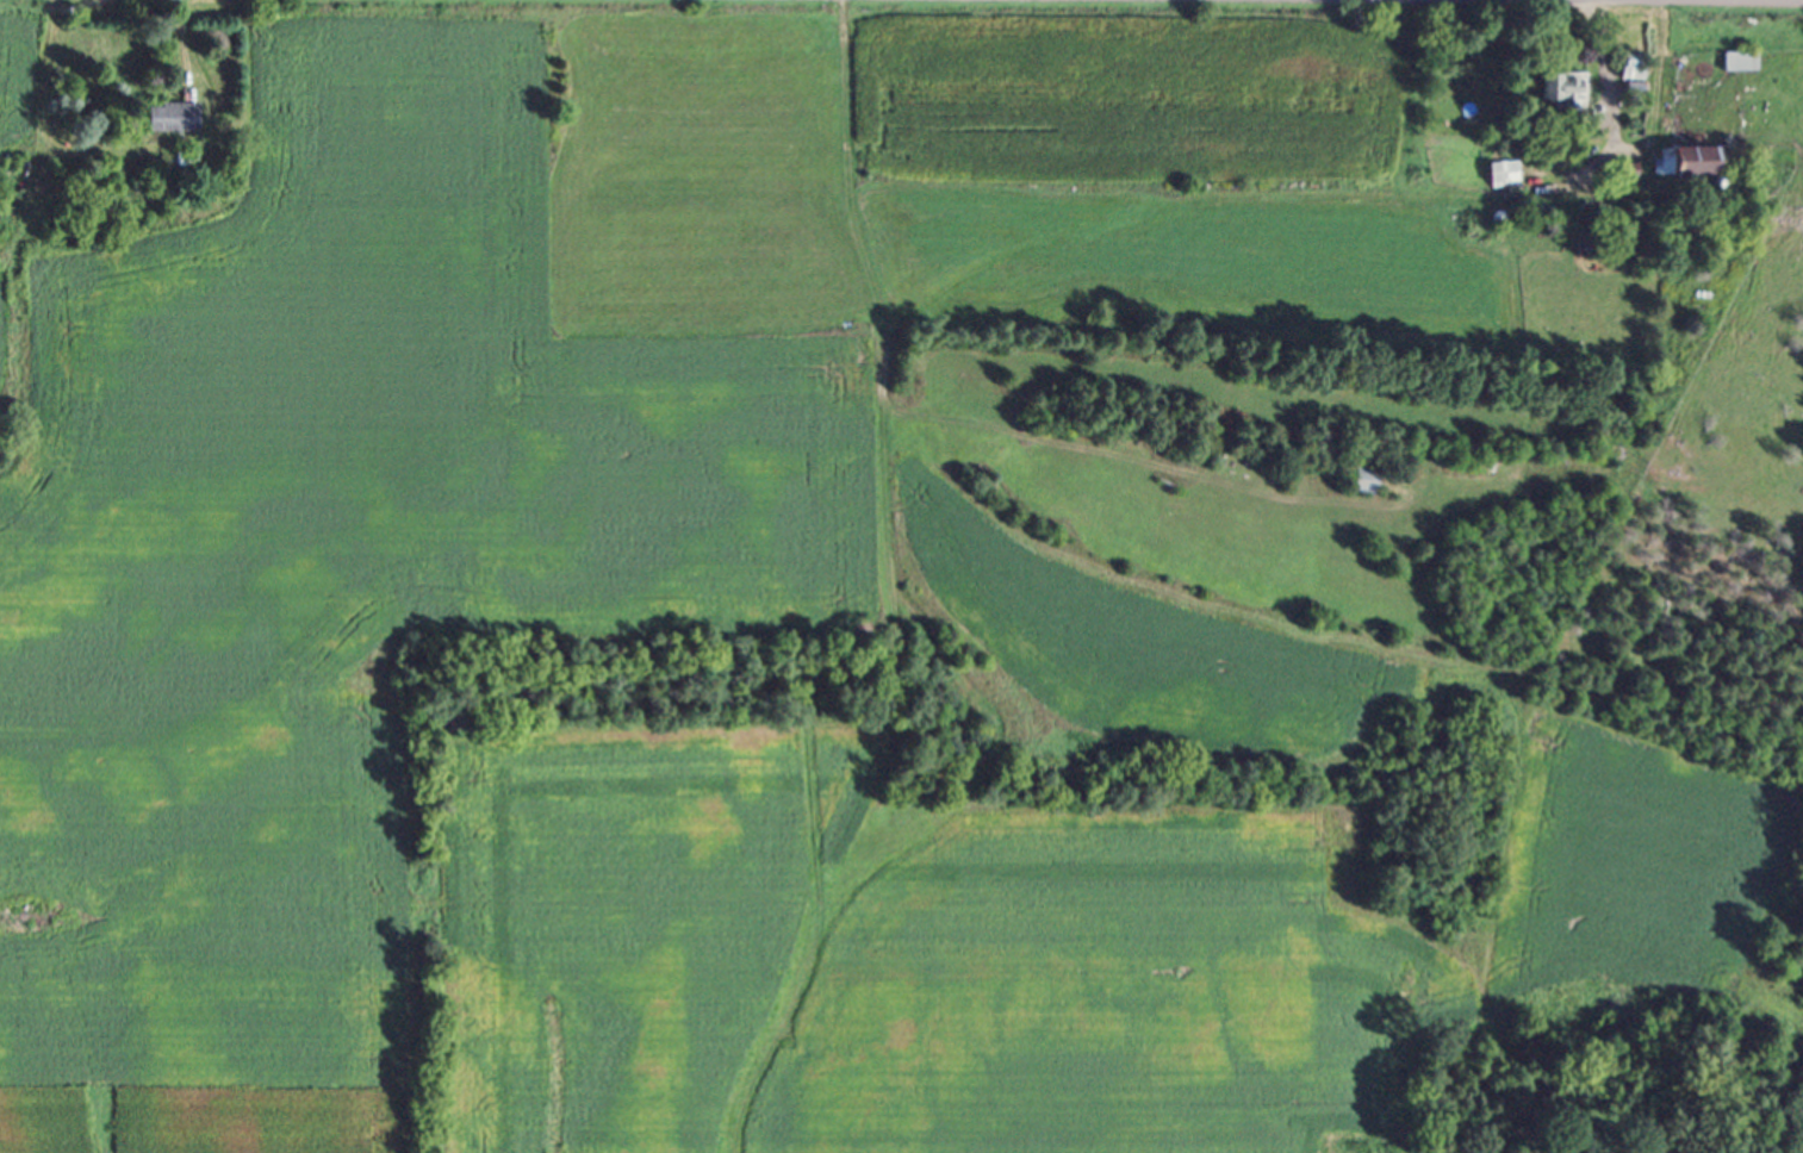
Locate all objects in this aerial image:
building: (1743, 64)
building: (1633, 70)
building: (1565, 94)
building: (174, 121)
building: (1695, 166)
building: (1506, 177)
building: (1362, 484)

